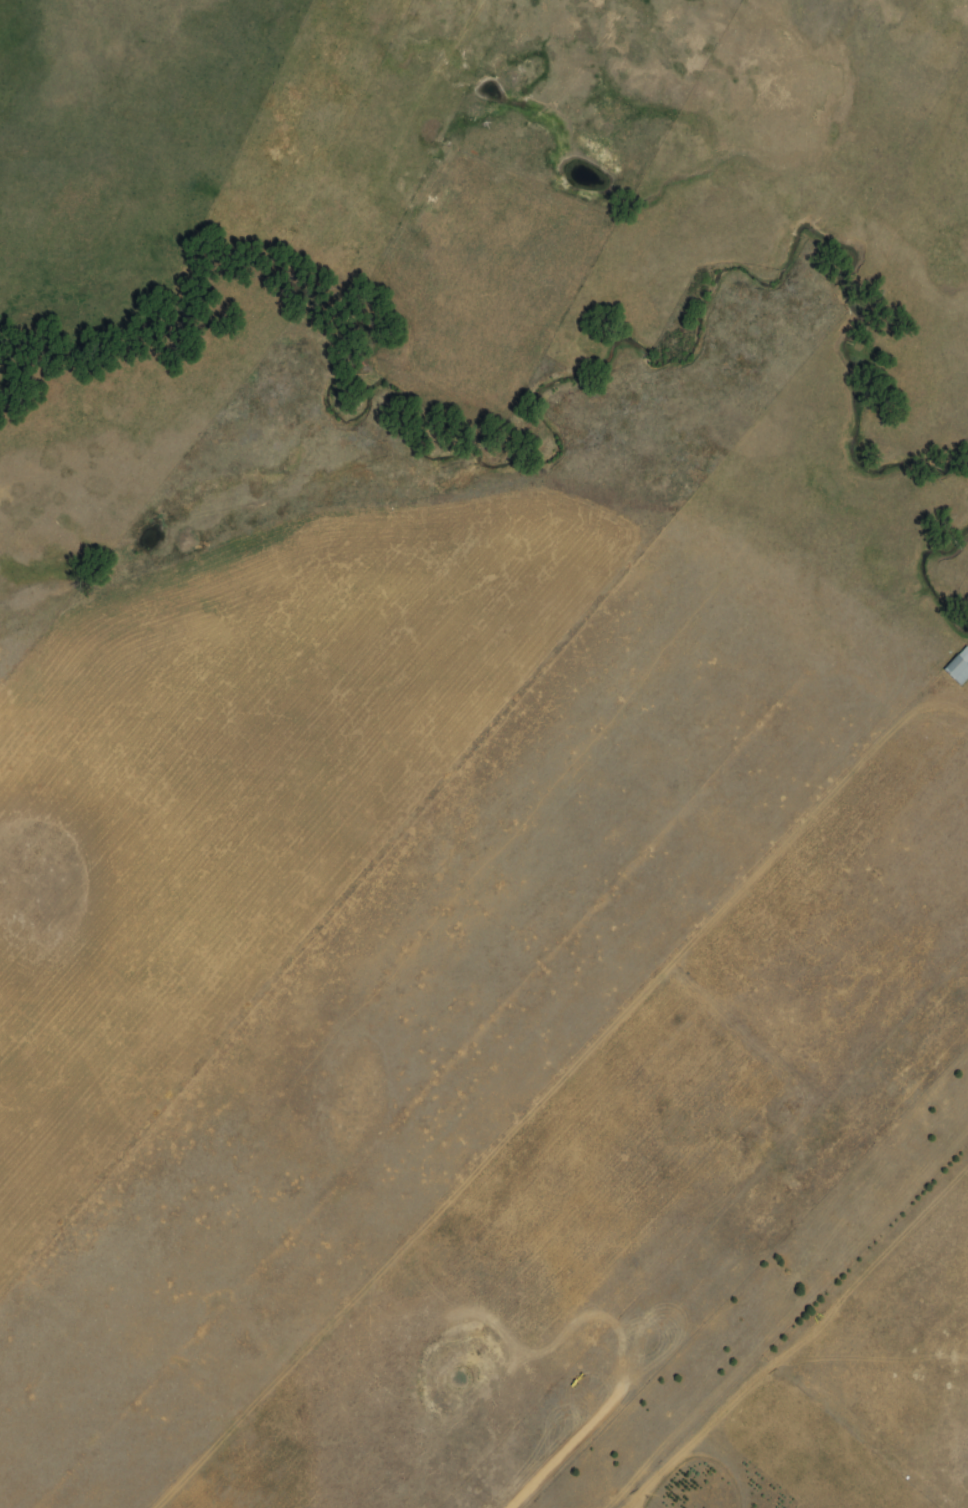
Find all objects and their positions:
building: (959, 668)

